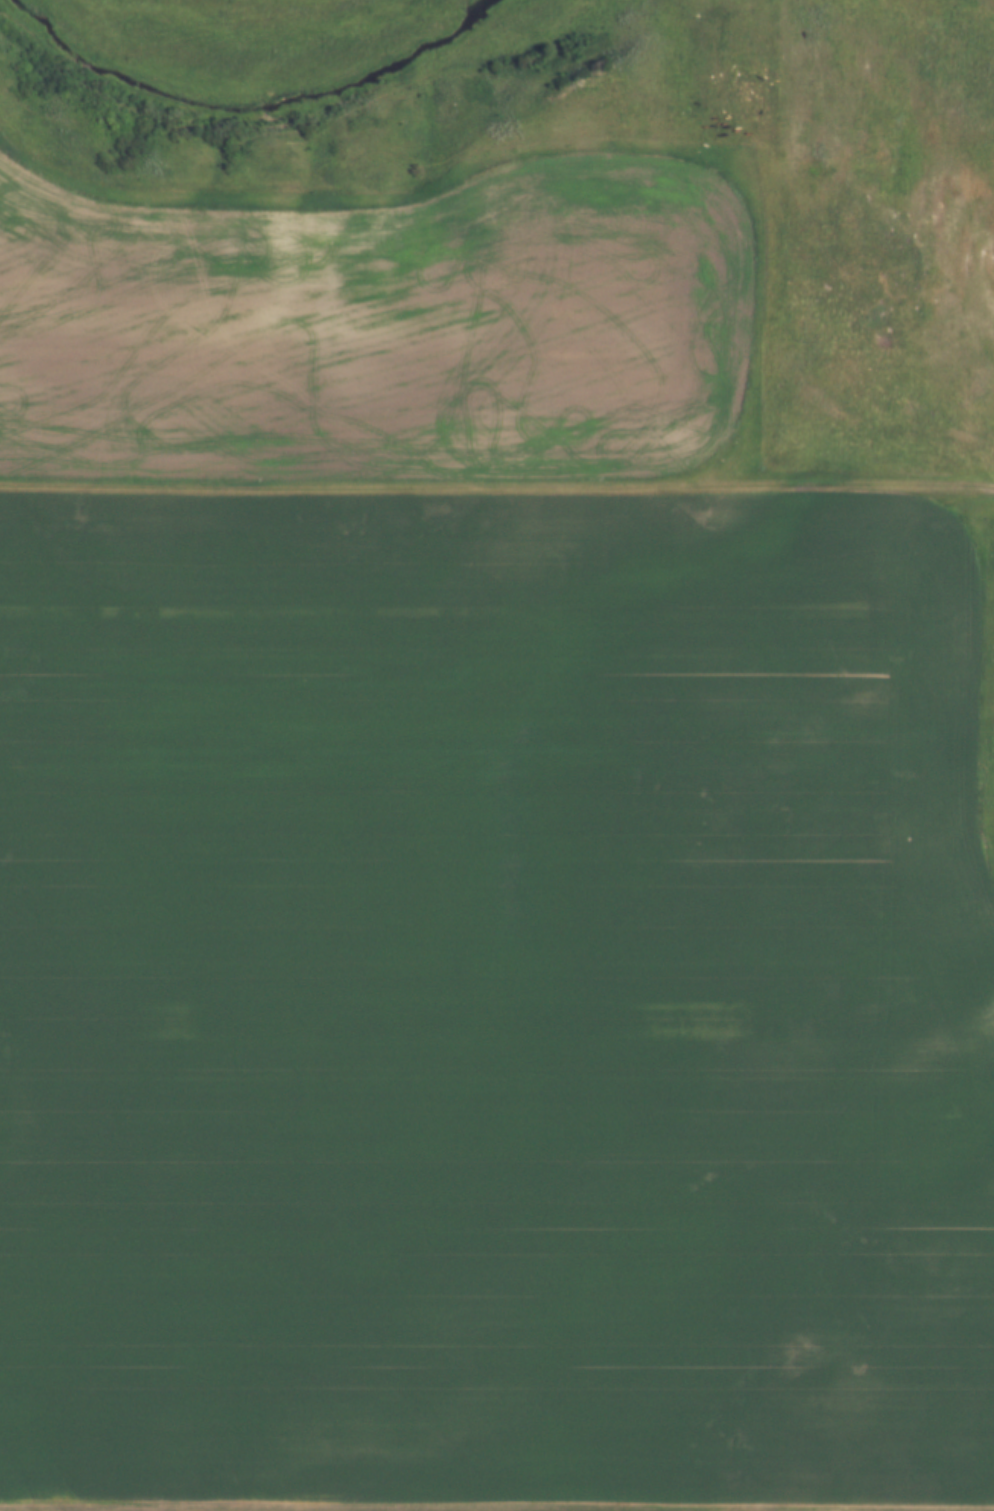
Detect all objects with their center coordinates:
road: (497, 486)

